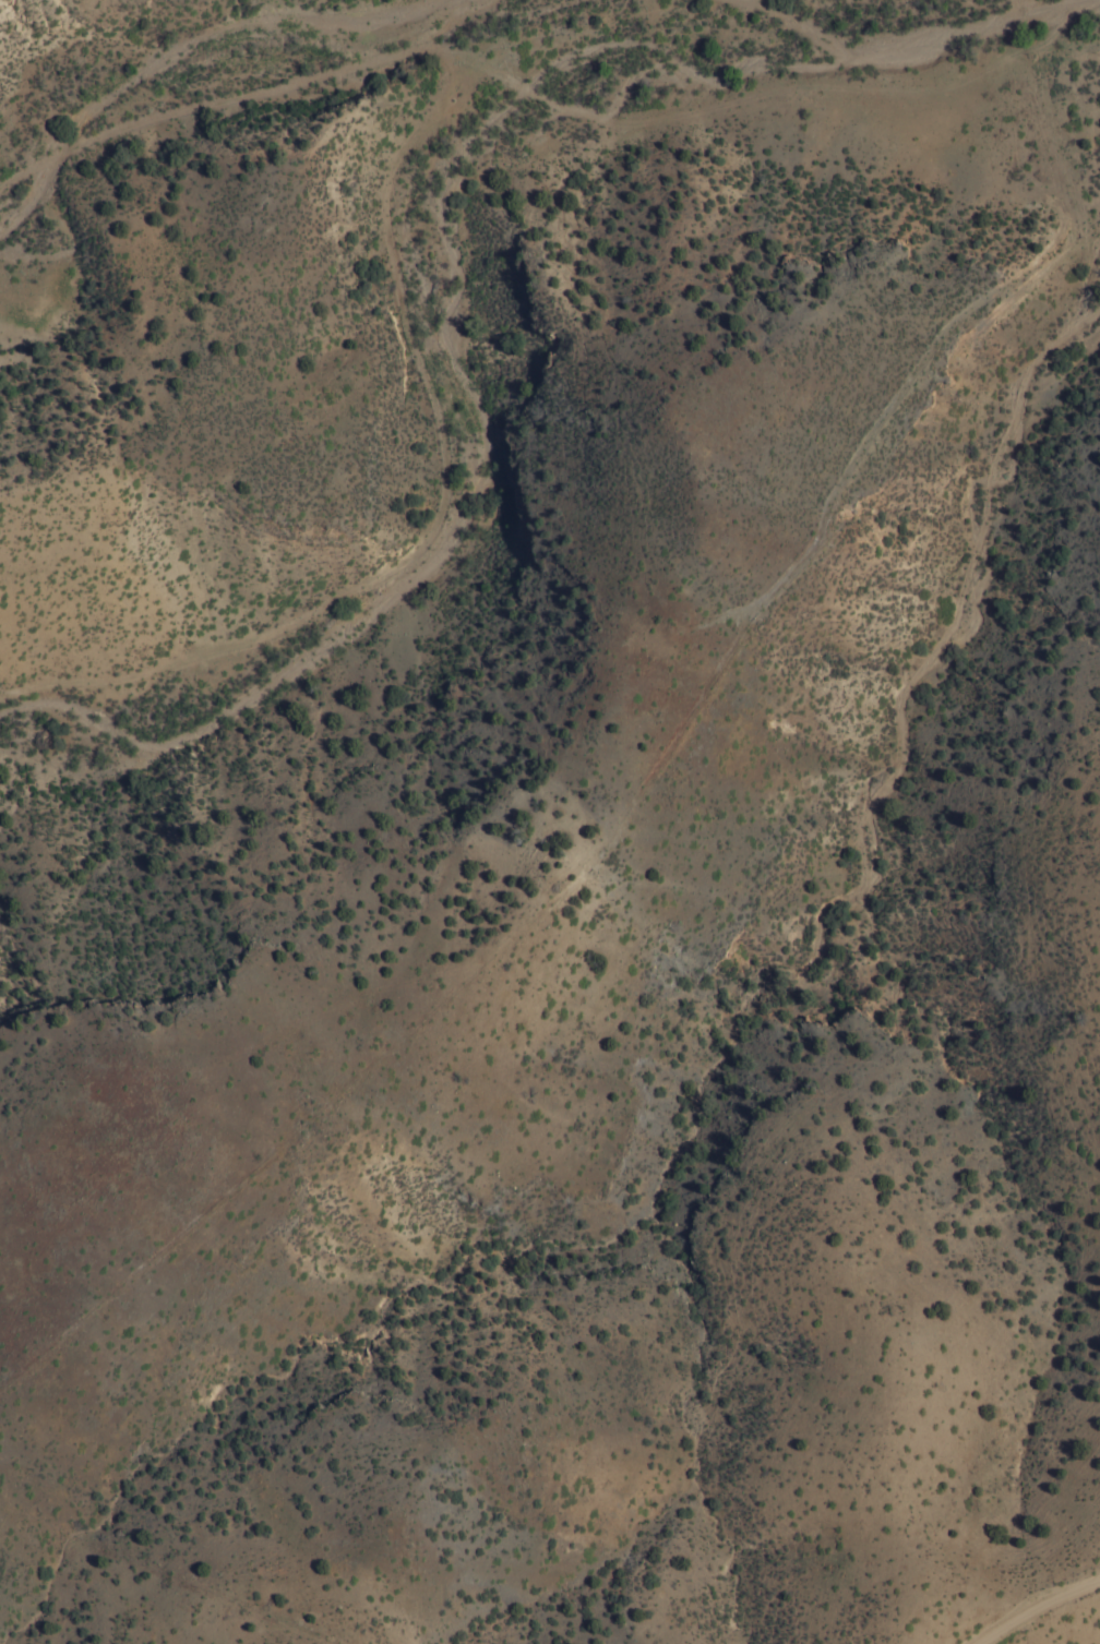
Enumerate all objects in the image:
road: (1035, 1608)

